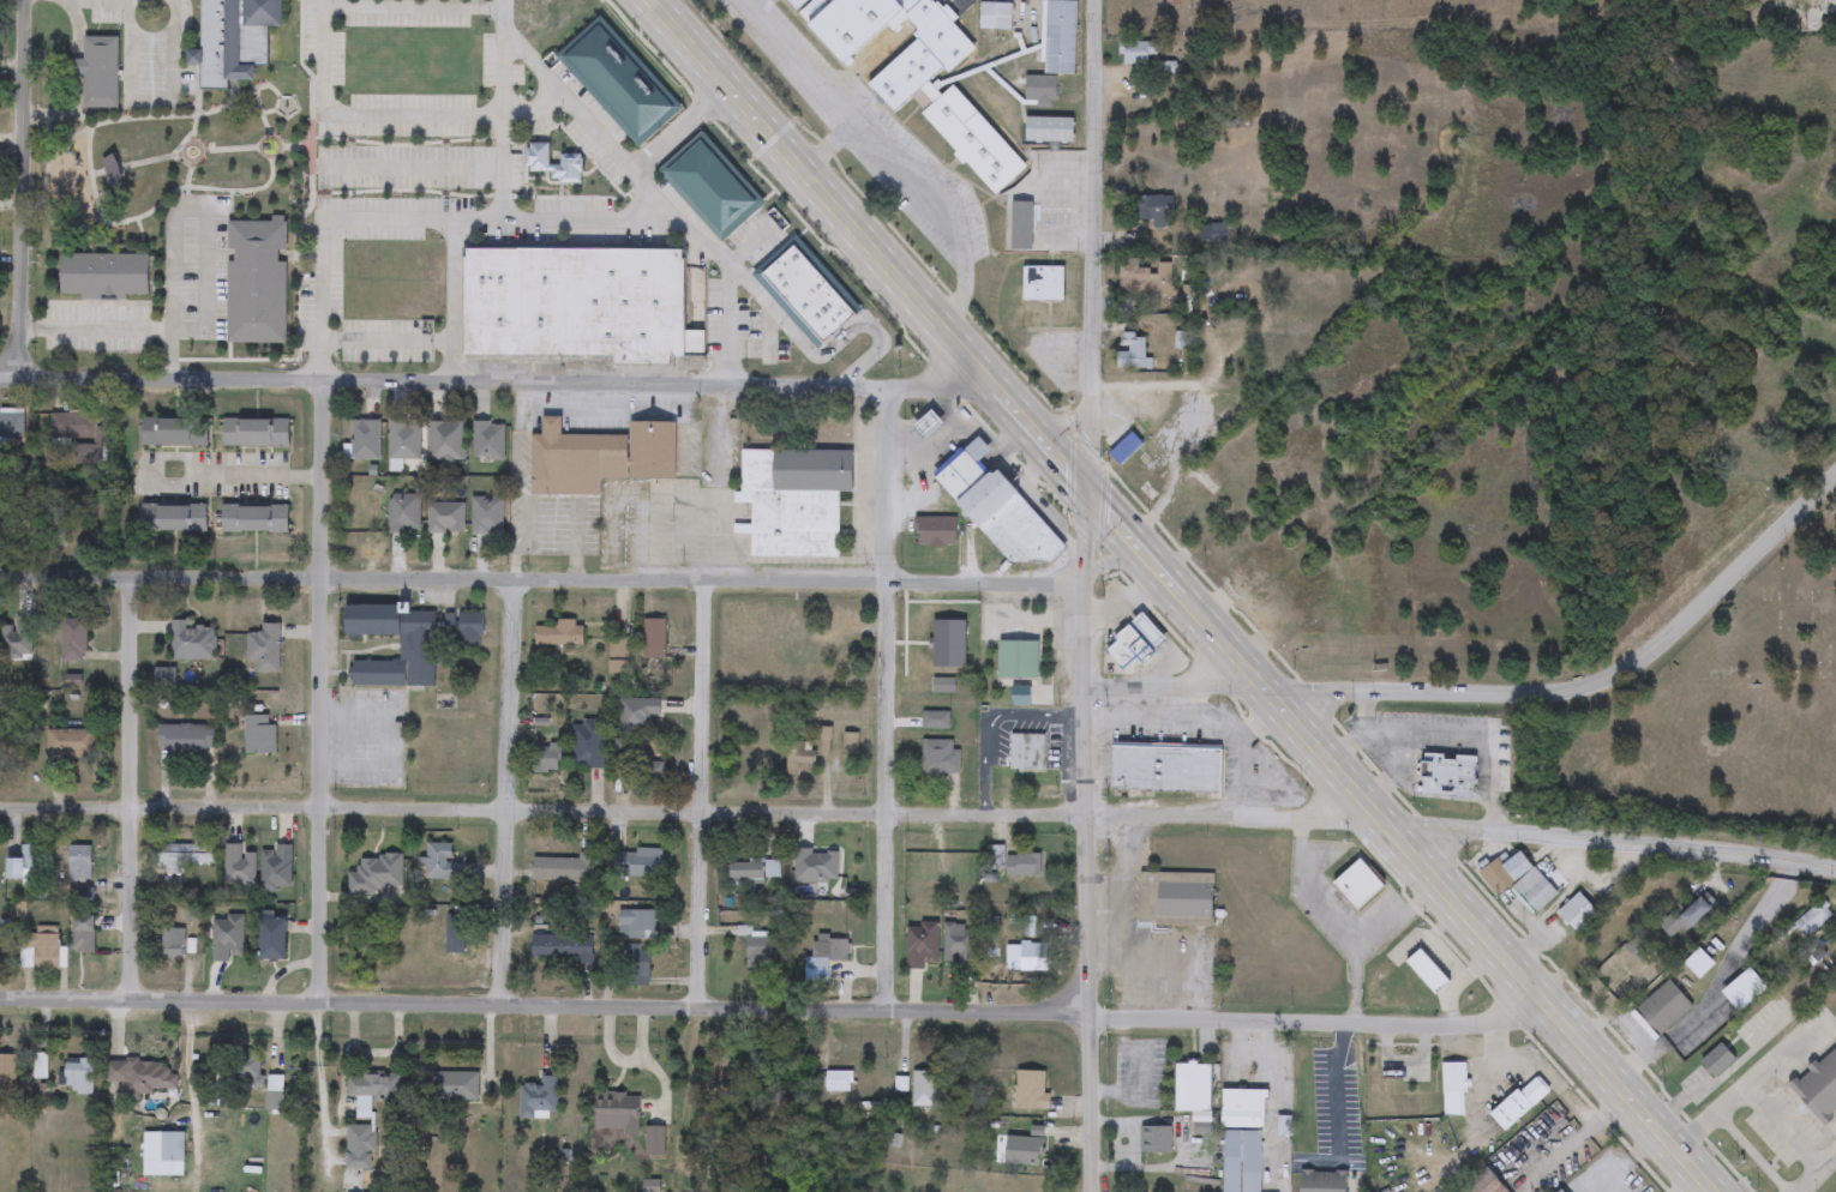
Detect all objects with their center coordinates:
building: (796, 4)
building: (516, 5)
road: (402, 7)
building: (1060, 37)
building: (235, 40)
road: (323, 50)
building: (1139, 54)
road: (799, 62)
road: (538, 66)
building: (98, 72)
building: (918, 73)
road: (502, 85)
building: (1040, 91)
road: (150, 98)
road: (408, 115)
building: (1049, 130)
park: (172, 159)
road: (641, 164)
road: (502, 167)
road: (412, 168)
building: (112, 170)
road: (19, 191)
road: (917, 192)
building: (1157, 207)
road: (172, 213)
road: (524, 217)
road: (868, 246)
road: (1096, 246)
building: (778, 270)
building: (104, 276)
building: (1146, 281)
building: (257, 282)
building: (1044, 284)
road: (725, 285)
building: (802, 287)
road: (452, 297)
building: (575, 303)
road: (95, 329)
road: (794, 335)
road: (388, 339)
building: (1134, 353)
road: (866, 357)
road: (493, 379)
road: (1060, 421)
building: (12, 425)
building: (73, 425)
building: (174, 432)
building: (254, 433)
building: (445, 437)
building: (404, 440)
road: (720, 440)
building: (366, 441)
building: (488, 441)
building: (719, 446)
building: (1124, 451)
building: (600, 458)
building: (1214, 470)
road: (192, 474)
road: (516, 482)
building: (1152, 490)
traffic signals: (1087, 493)
road: (706, 498)
building: (796, 500)
building: (998, 510)
building: (403, 516)
building: (486, 517)
building: (173, 518)
building: (445, 518)
building: (254, 519)
building: (1195, 519)
building: (58, 522)
building: (935, 532)
road: (575, 542)
road: (1110, 560)
road: (542, 582)
road: (319, 610)
building: (926, 628)
building: (463, 631)
building: (560, 634)
building: (16, 639)
building: (654, 639)
building: (73, 640)
building: (193, 642)
building: (1135, 643)
building: (264, 649)
building: (418, 649)
building: (618, 656)
building: (1018, 661)
road: (1170, 685)
building: (943, 686)
road: (1585, 687)
road: (888, 694)
building: (1021, 698)
road: (1194, 704)
road: (1366, 711)
building: (637, 712)
building: (935, 721)
park: (1715, 721)
road: (992, 723)
road: (1182, 723)
building: (259, 735)
road: (1447, 736)
building: (186, 740)
building: (70, 744)
building: (588, 745)
building: (1027, 753)
road: (1082, 754)
building: (799, 758)
building: (940, 759)
building: (545, 760)
building: (642, 769)
building: (1166, 770)
road: (1247, 770)
road: (1396, 772)
building: (1448, 777)
road: (128, 790)
road: (506, 791)
road: (702, 794)
road: (690, 812)
road: (1400, 841)
road: (1609, 842)
building: (182, 861)
building: (80, 863)
building: (440, 863)
building: (643, 863)
building: (954, 865)
building: (26, 866)
building: (811, 866)
building: (1024, 866)
building: (276, 868)
building: (565, 868)
building: (239, 869)
building: (751, 871)
building: (377, 875)
building: (1519, 881)
building: (1358, 886)
building: (1176, 897)
building: (1577, 914)
building: (1688, 917)
building: (1813, 920)
building: (635, 923)
road: (1340, 932)
building: (83, 933)
building: (455, 934)
building: (274, 939)
building: (226, 940)
building: (173, 941)
building: (922, 945)
building: (959, 946)
building: (562, 947)
building: (757, 949)
building: (41, 950)
building: (824, 957)
building: (636, 962)
building: (1427, 971)
road: (1716, 982)
road: (1355, 985)
road: (546, 1003)
building: (1661, 1010)
road: (1325, 1019)
road: (1266, 1059)
building: (1718, 1060)
building: (40, 1066)
building: (248, 1068)
building: (7, 1072)
building: (77, 1076)
building: (148, 1077)
road: (1495, 1079)
building: (838, 1082)
road: (1346, 1082)
road: (1747, 1082)
building: (454, 1086)
building: (1819, 1086)
building: (1193, 1088)
road: (190, 1089)
building: (377, 1089)
building: (924, 1089)
building: (1453, 1089)
building: (274, 1092)
building: (1033, 1092)
building: (539, 1097)
building: (1520, 1103)
road: (1091, 1104)
building: (1242, 1104)
building: (618, 1113)
road: (1784, 1124)
road: (1580, 1138)
building: (1154, 1140)
building: (360, 1148)
building: (1042, 1148)
building: (164, 1150)
building: (1242, 1161)
road: (1816, 1170)
building: (1324, 1181)
road: (1618, 1181)
building: (1484, 1184)
road: (1693, 1185)

